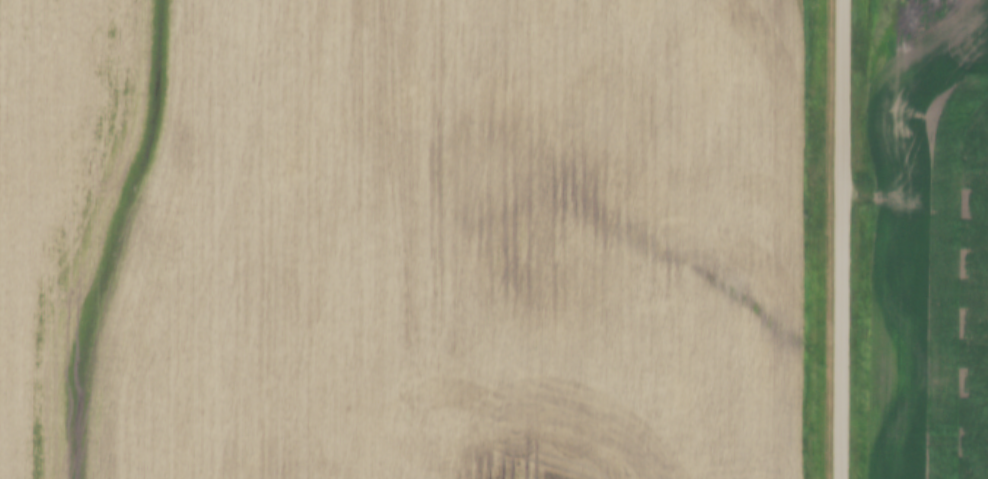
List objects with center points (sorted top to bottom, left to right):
road: (844, 239)

